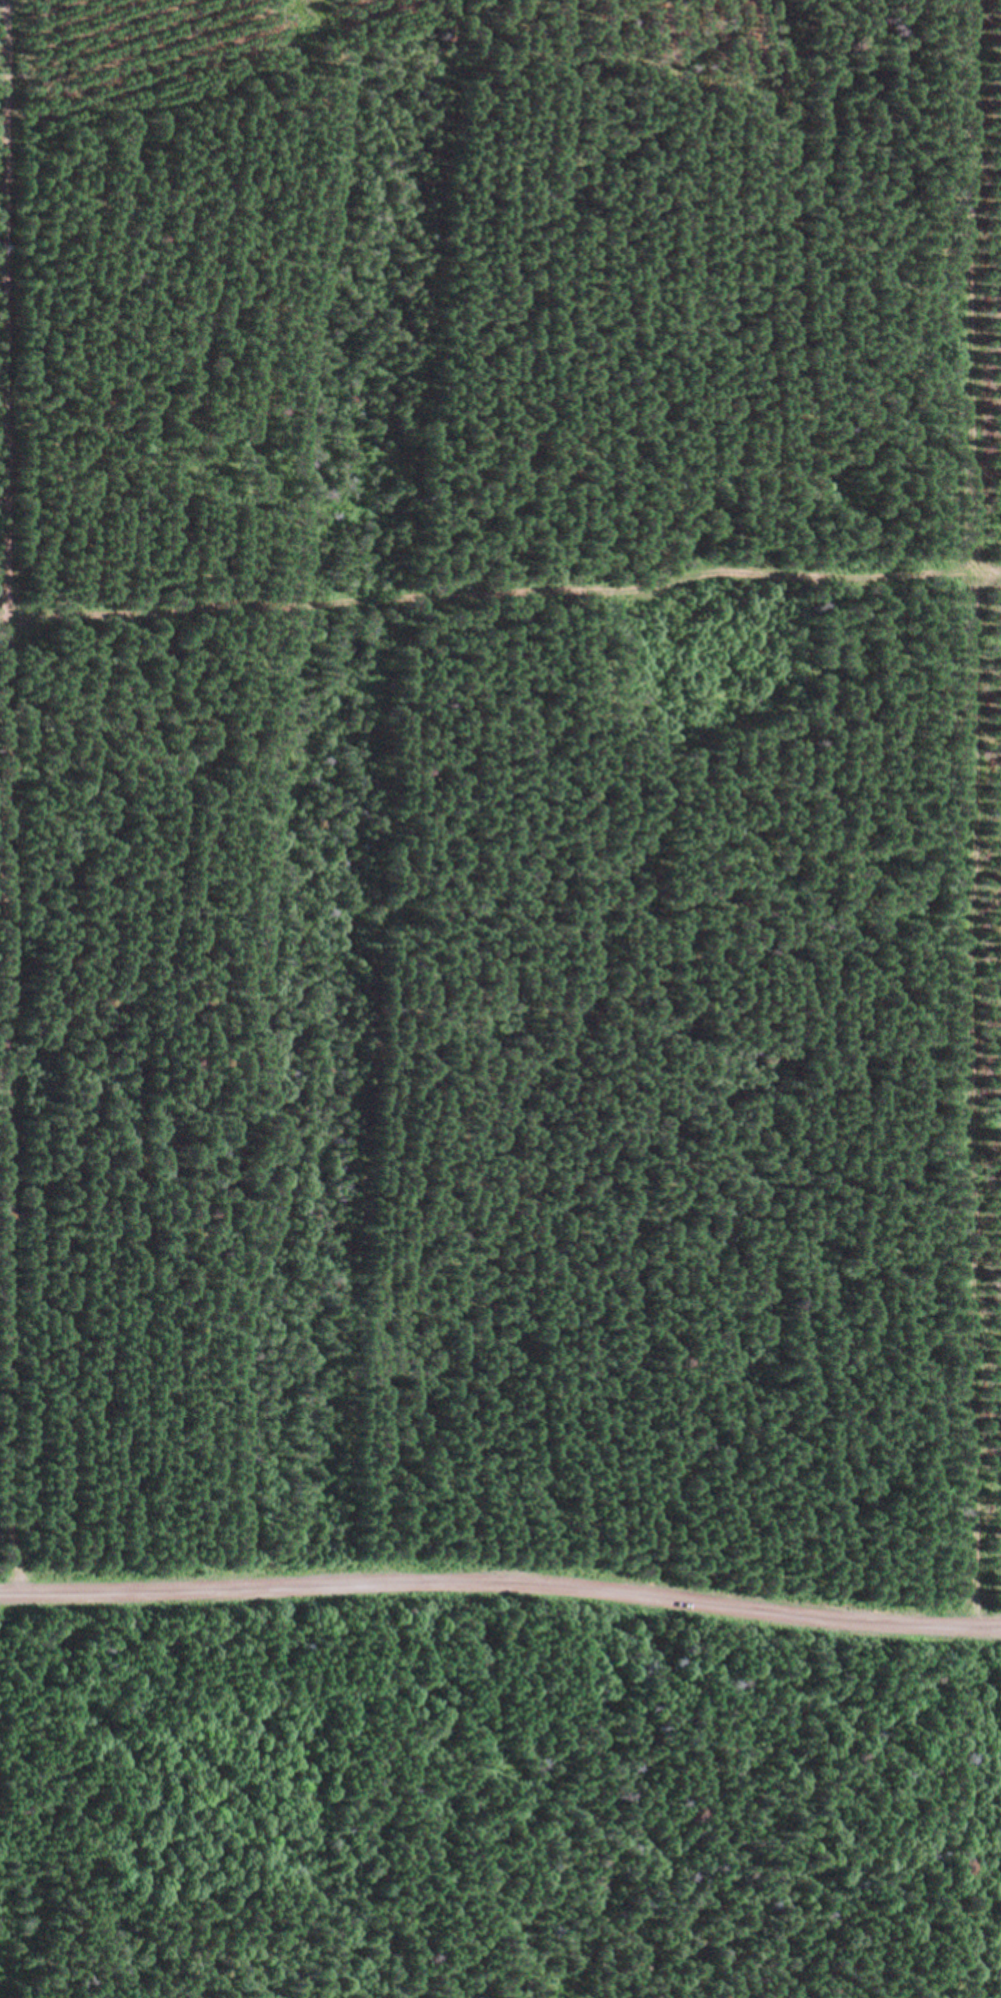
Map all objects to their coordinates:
road: (501, 1586)

